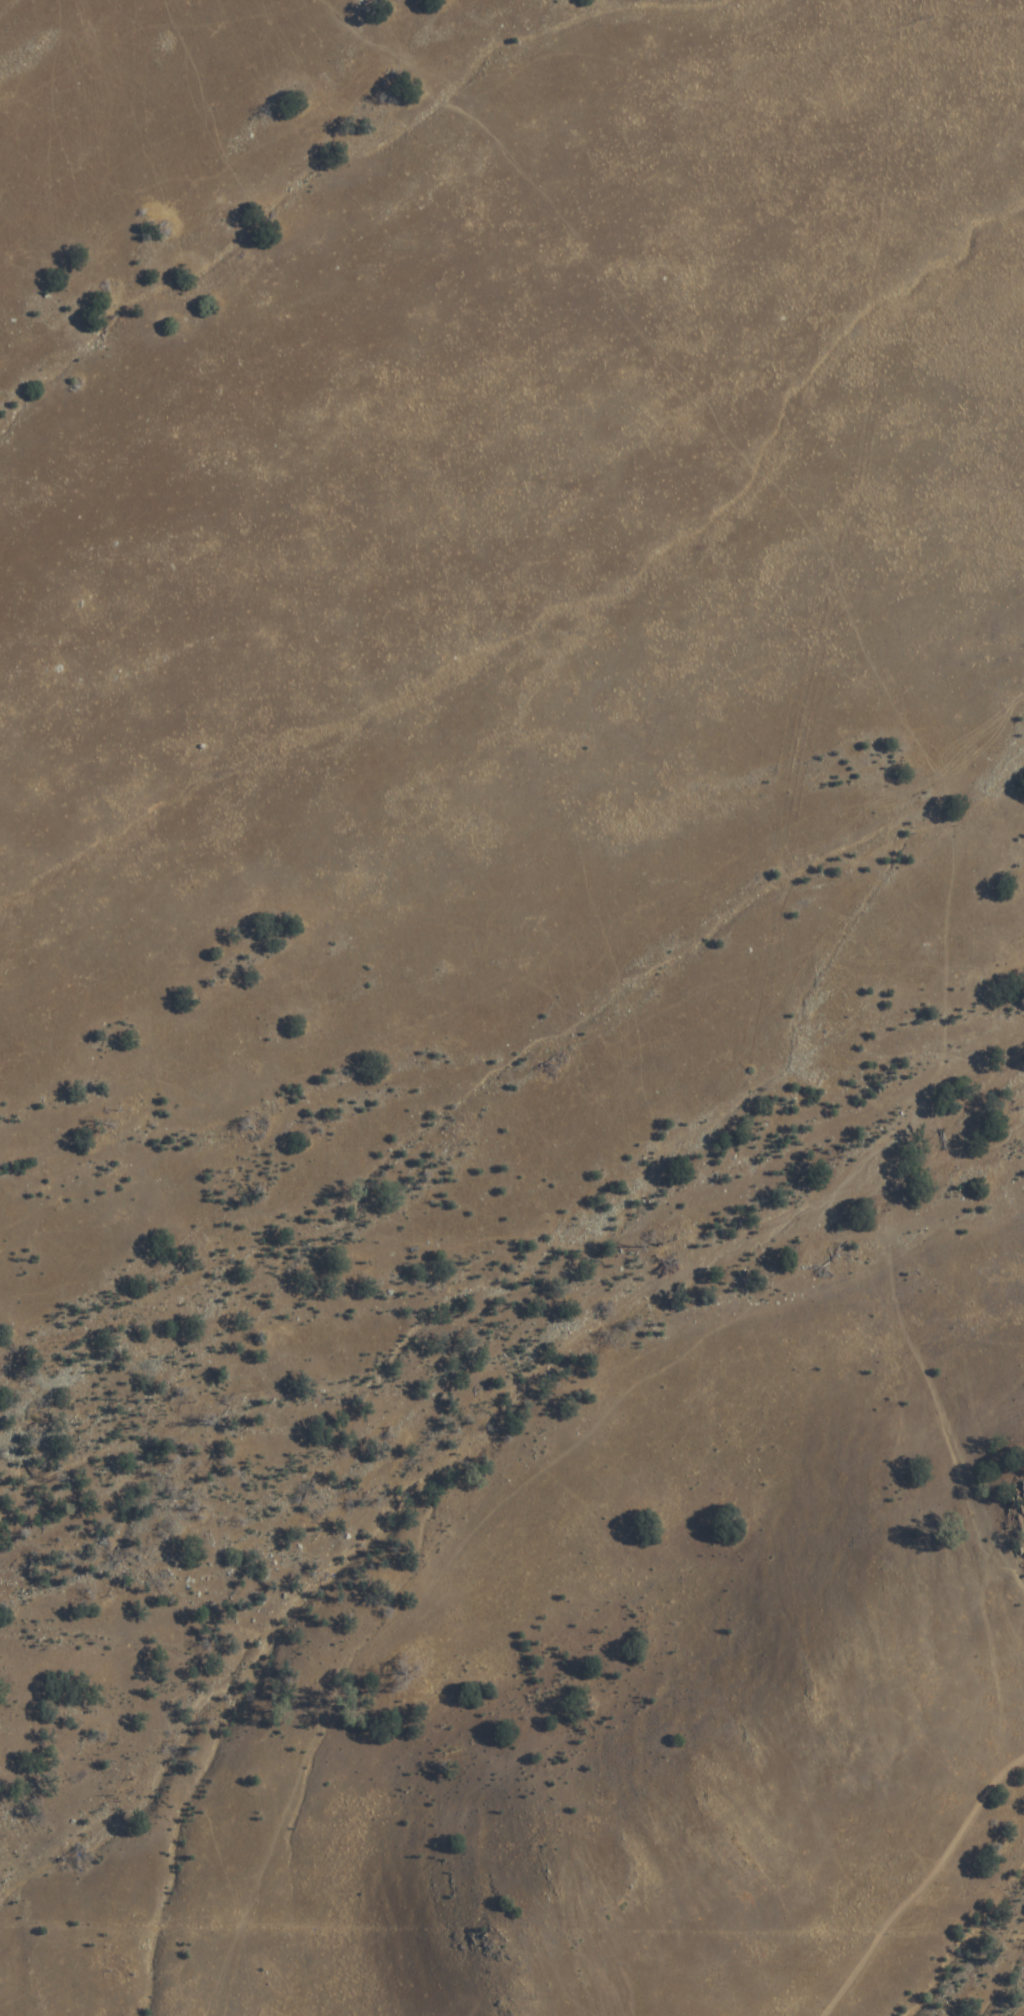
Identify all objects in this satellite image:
road: (11, 11)

